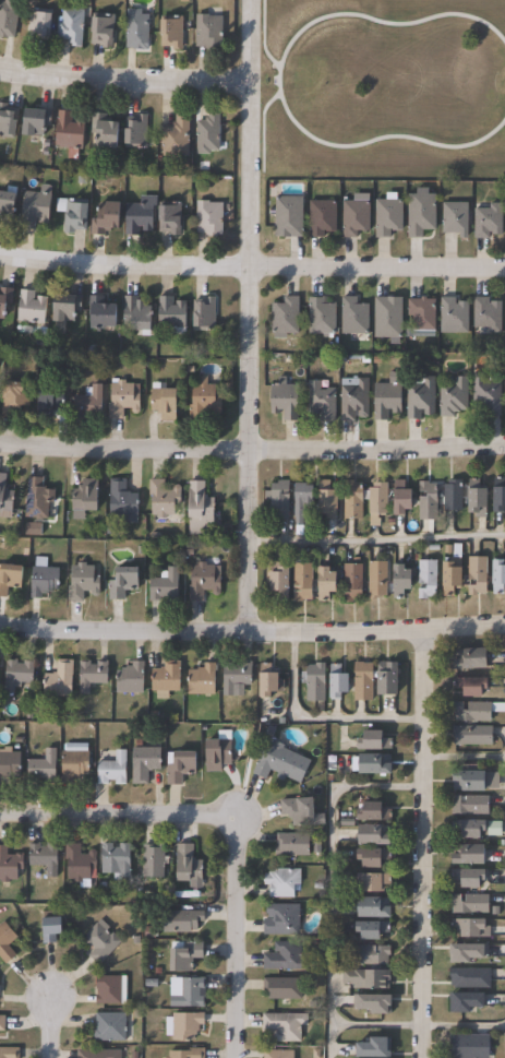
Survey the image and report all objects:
building: (9, 17)
building: (40, 25)
building: (71, 26)
building: (136, 29)
building: (171, 31)
building: (208, 31)
building: (103, 32)
road: (262, 36)
road: (124, 80)
road: (277, 80)
park: (381, 90)
building: (9, 119)
building: (36, 122)
building: (107, 130)
building: (69, 131)
building: (136, 131)
road: (261, 132)
building: (207, 134)
building: (176, 138)
building: (8, 201)
building: (35, 206)
building: (73, 214)
building: (420, 214)
building: (288, 216)
building: (137, 217)
building: (209, 217)
building: (322, 217)
building: (356, 217)
building: (388, 217)
building: (107, 218)
building: (170, 218)
building: (455, 218)
building: (489, 221)
building: (504, 223)
road: (252, 266)
building: (4, 300)
building: (67, 307)
building: (32, 308)
building: (103, 313)
building: (422, 313)
building: (172, 314)
building: (204, 314)
building: (455, 314)
building: (488, 314)
building: (139, 316)
road: (250, 316)
building: (504, 316)
building: (322, 317)
building: (354, 317)
building: (285, 318)
building: (388, 318)
building: (503, 391)
building: (488, 393)
building: (454, 396)
building: (420, 397)
building: (14, 399)
building: (53, 399)
building: (123, 399)
building: (353, 399)
building: (388, 399)
building: (285, 400)
building: (204, 401)
building: (322, 401)
building: (89, 403)
building: (166, 404)
road: (252, 455)
building: (500, 494)
building: (453, 496)
building: (5, 499)
building: (38, 499)
building: (86, 499)
building: (164, 499)
building: (404, 499)
building: (479, 499)
building: (278, 500)
building: (354, 500)
building: (122, 501)
building: (429, 501)
building: (301, 502)
building: (377, 503)
building: (329, 504)
building: (201, 509)
road: (377, 539)
building: (478, 576)
building: (498, 576)
building: (11, 579)
building: (377, 579)
building: (453, 579)
building: (302, 580)
building: (426, 580)
building: (44, 582)
building: (203, 582)
building: (273, 582)
building: (402, 582)
building: (82, 583)
building: (351, 583)
building: (123, 584)
building: (282, 584)
building: (328, 584)
building: (165, 586)
road: (252, 630)
building: (474, 657)
building: (17, 675)
building: (91, 676)
building: (236, 676)
building: (390, 678)
building: (131, 679)
building: (167, 679)
building: (381, 679)
building: (363, 680)
building: (58, 681)
building: (203, 681)
building: (314, 682)
building: (270, 683)
building: (340, 683)
building: (473, 685)
building: (477, 710)
road: (318, 717)
building: (473, 735)
building: (376, 739)
building: (218, 751)
road: (465, 757)
building: (274, 760)
building: (145, 762)
building: (373, 763)
building: (9, 765)
building: (74, 765)
building: (180, 765)
building: (43, 769)
building: (113, 769)
building: (477, 777)
building: (470, 804)
building: (301, 809)
building: (375, 810)
road: (236, 818)
building: (472, 827)
building: (376, 834)
road: (424, 843)
building: (293, 844)
building: (473, 854)
building: (375, 856)
building: (45, 857)
building: (118, 858)
building: (153, 859)
building: (81, 864)
building: (189, 864)
building: (10, 865)
building: (471, 877)
road: (329, 879)
building: (284, 881)
building: (372, 881)
building: (470, 903)
building: (376, 906)
building: (284, 918)
building: (182, 920)
building: (472, 926)
building: (52, 928)
building: (372, 928)
building: (7, 941)
building: (100, 941)
building: (185, 954)
building: (370, 954)
building: (286, 956)
building: (368, 977)
building: (471, 977)
building: (284, 988)
building: (111, 989)
building: (190, 994)
building: (470, 1000)
building: (2, 1022)
road: (52, 1023)
building: (183, 1025)
building: (286, 1025)
road: (376, 1025)
building: (110, 1026)
building: (470, 1046)
building: (366, 1048)
building: (8, 1053)
building: (188, 1053)
building: (98, 1054)
building: (279, 1054)

